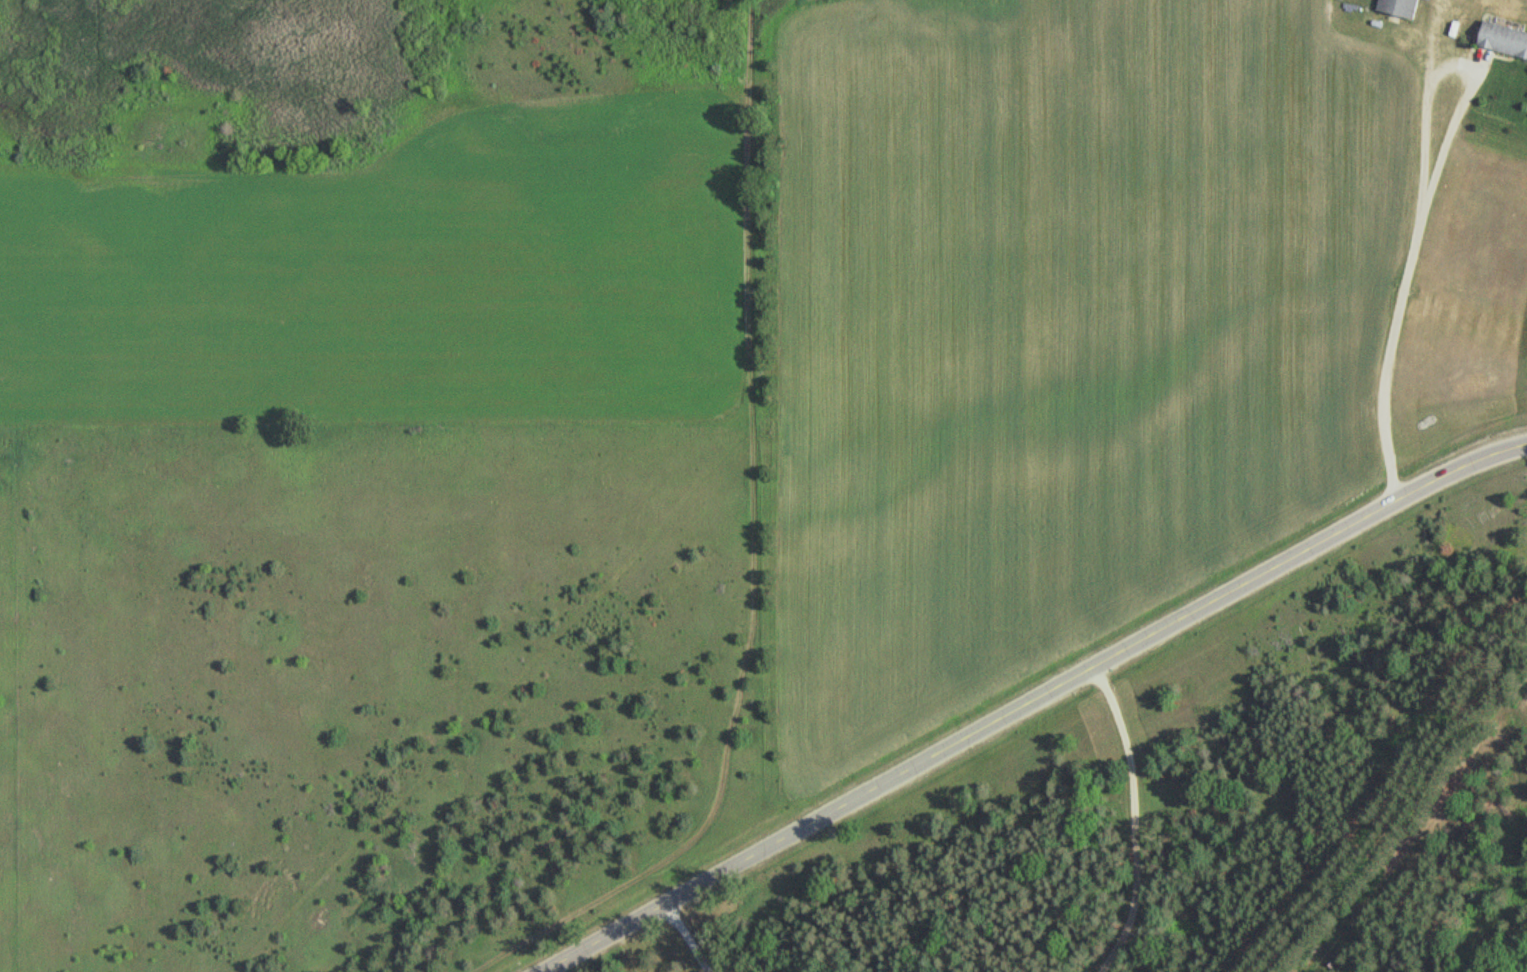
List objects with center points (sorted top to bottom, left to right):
building: (1401, 7)
building: (1505, 37)
road: (1030, 696)
road: (691, 937)

